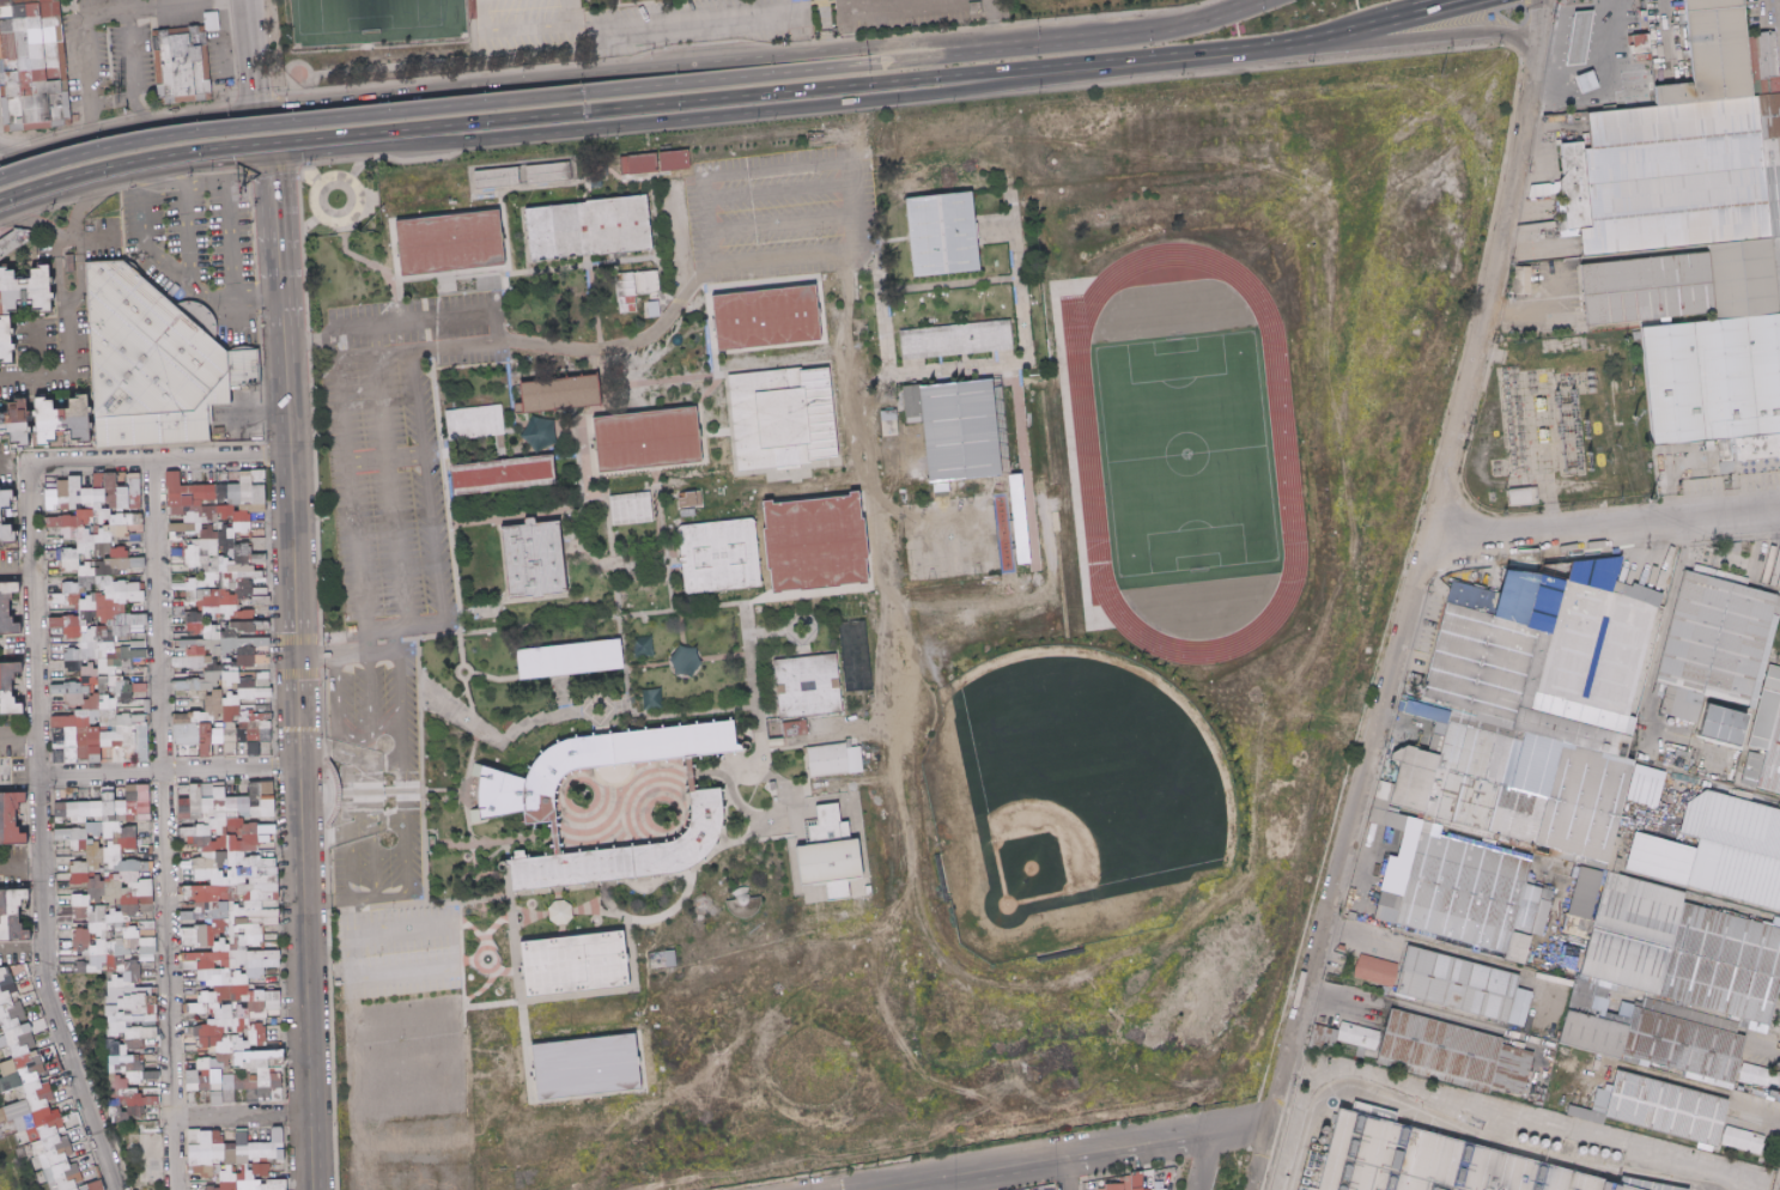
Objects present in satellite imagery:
parking lot: (915, 13)
park: (375, 19)
parking lot: (689, 23)
gas station: (1565, 23)
parking lot: (522, 32)
gas station: (1573, 62)
parking lot: (780, 213)
parking lot: (315, 305)
power substation: (1560, 421)
park: (1186, 453)
park: (949, 536)
track: (1288, 581)
parking lot: (389, 687)
park: (1088, 779)
park: (138, 1150)

